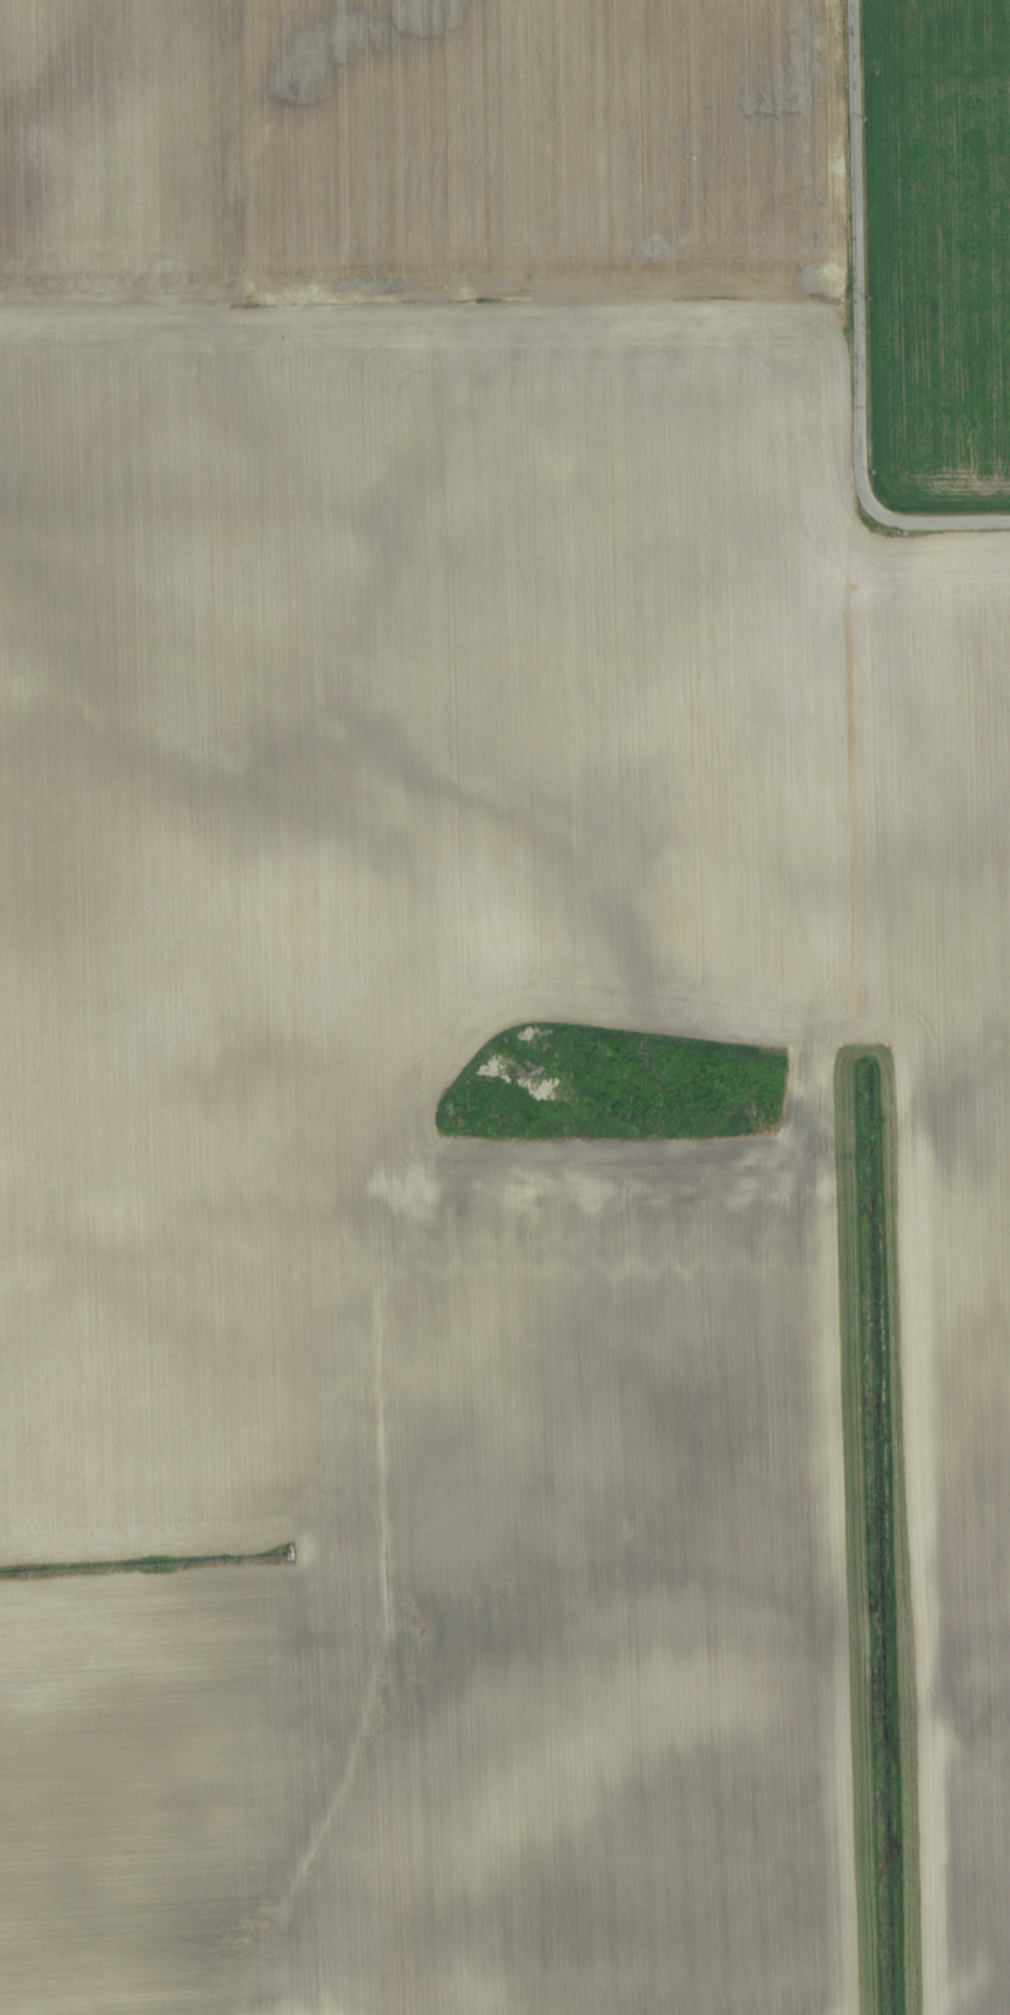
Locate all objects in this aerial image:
road: (859, 323)

